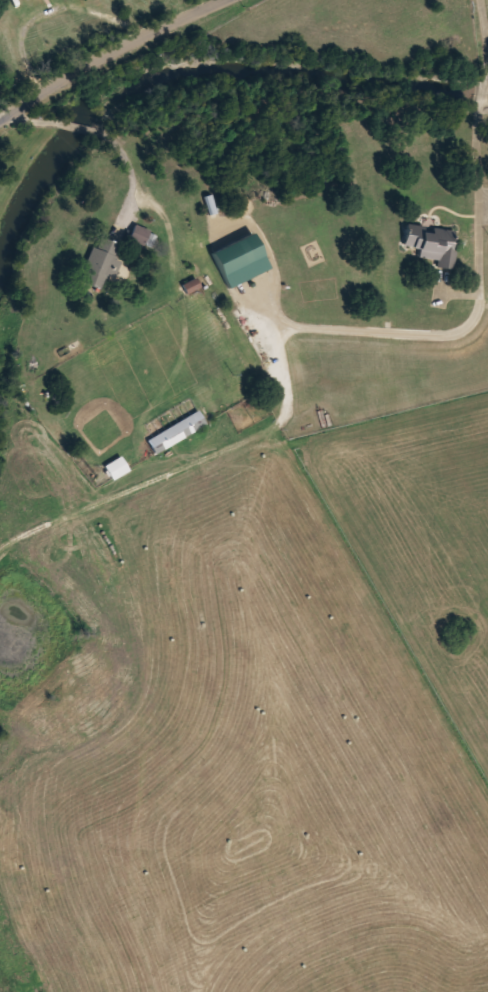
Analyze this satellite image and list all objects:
road: (110, 54)
building: (141, 234)
building: (432, 241)
building: (101, 261)
building: (176, 431)
building: (116, 467)

